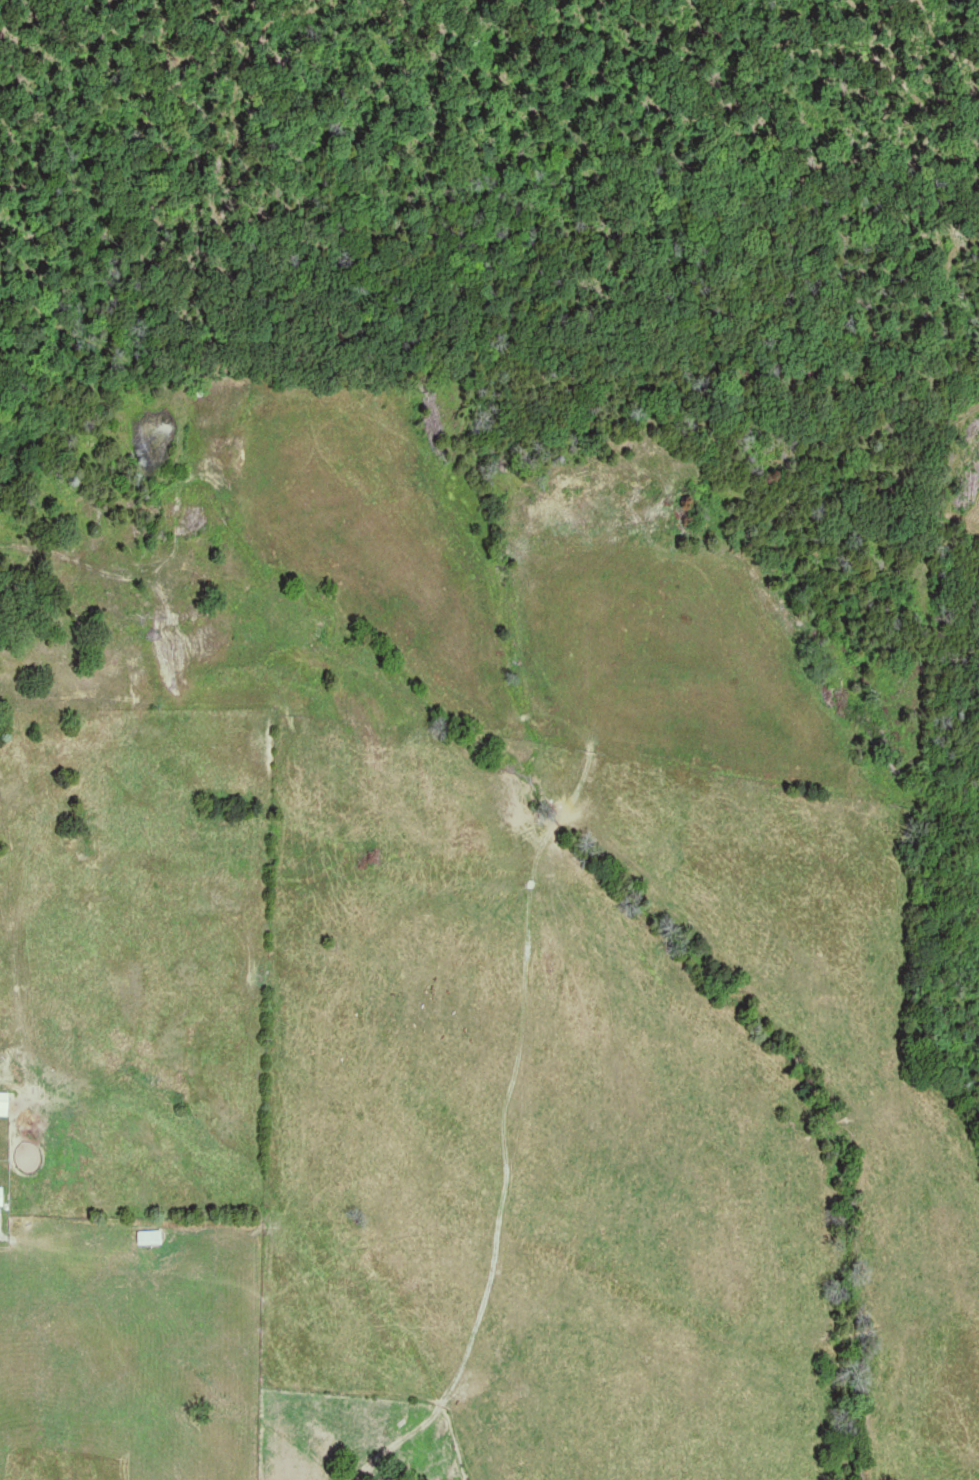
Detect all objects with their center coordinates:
building: (3, 1104)
building: (0, 1197)
building: (148, 1238)

